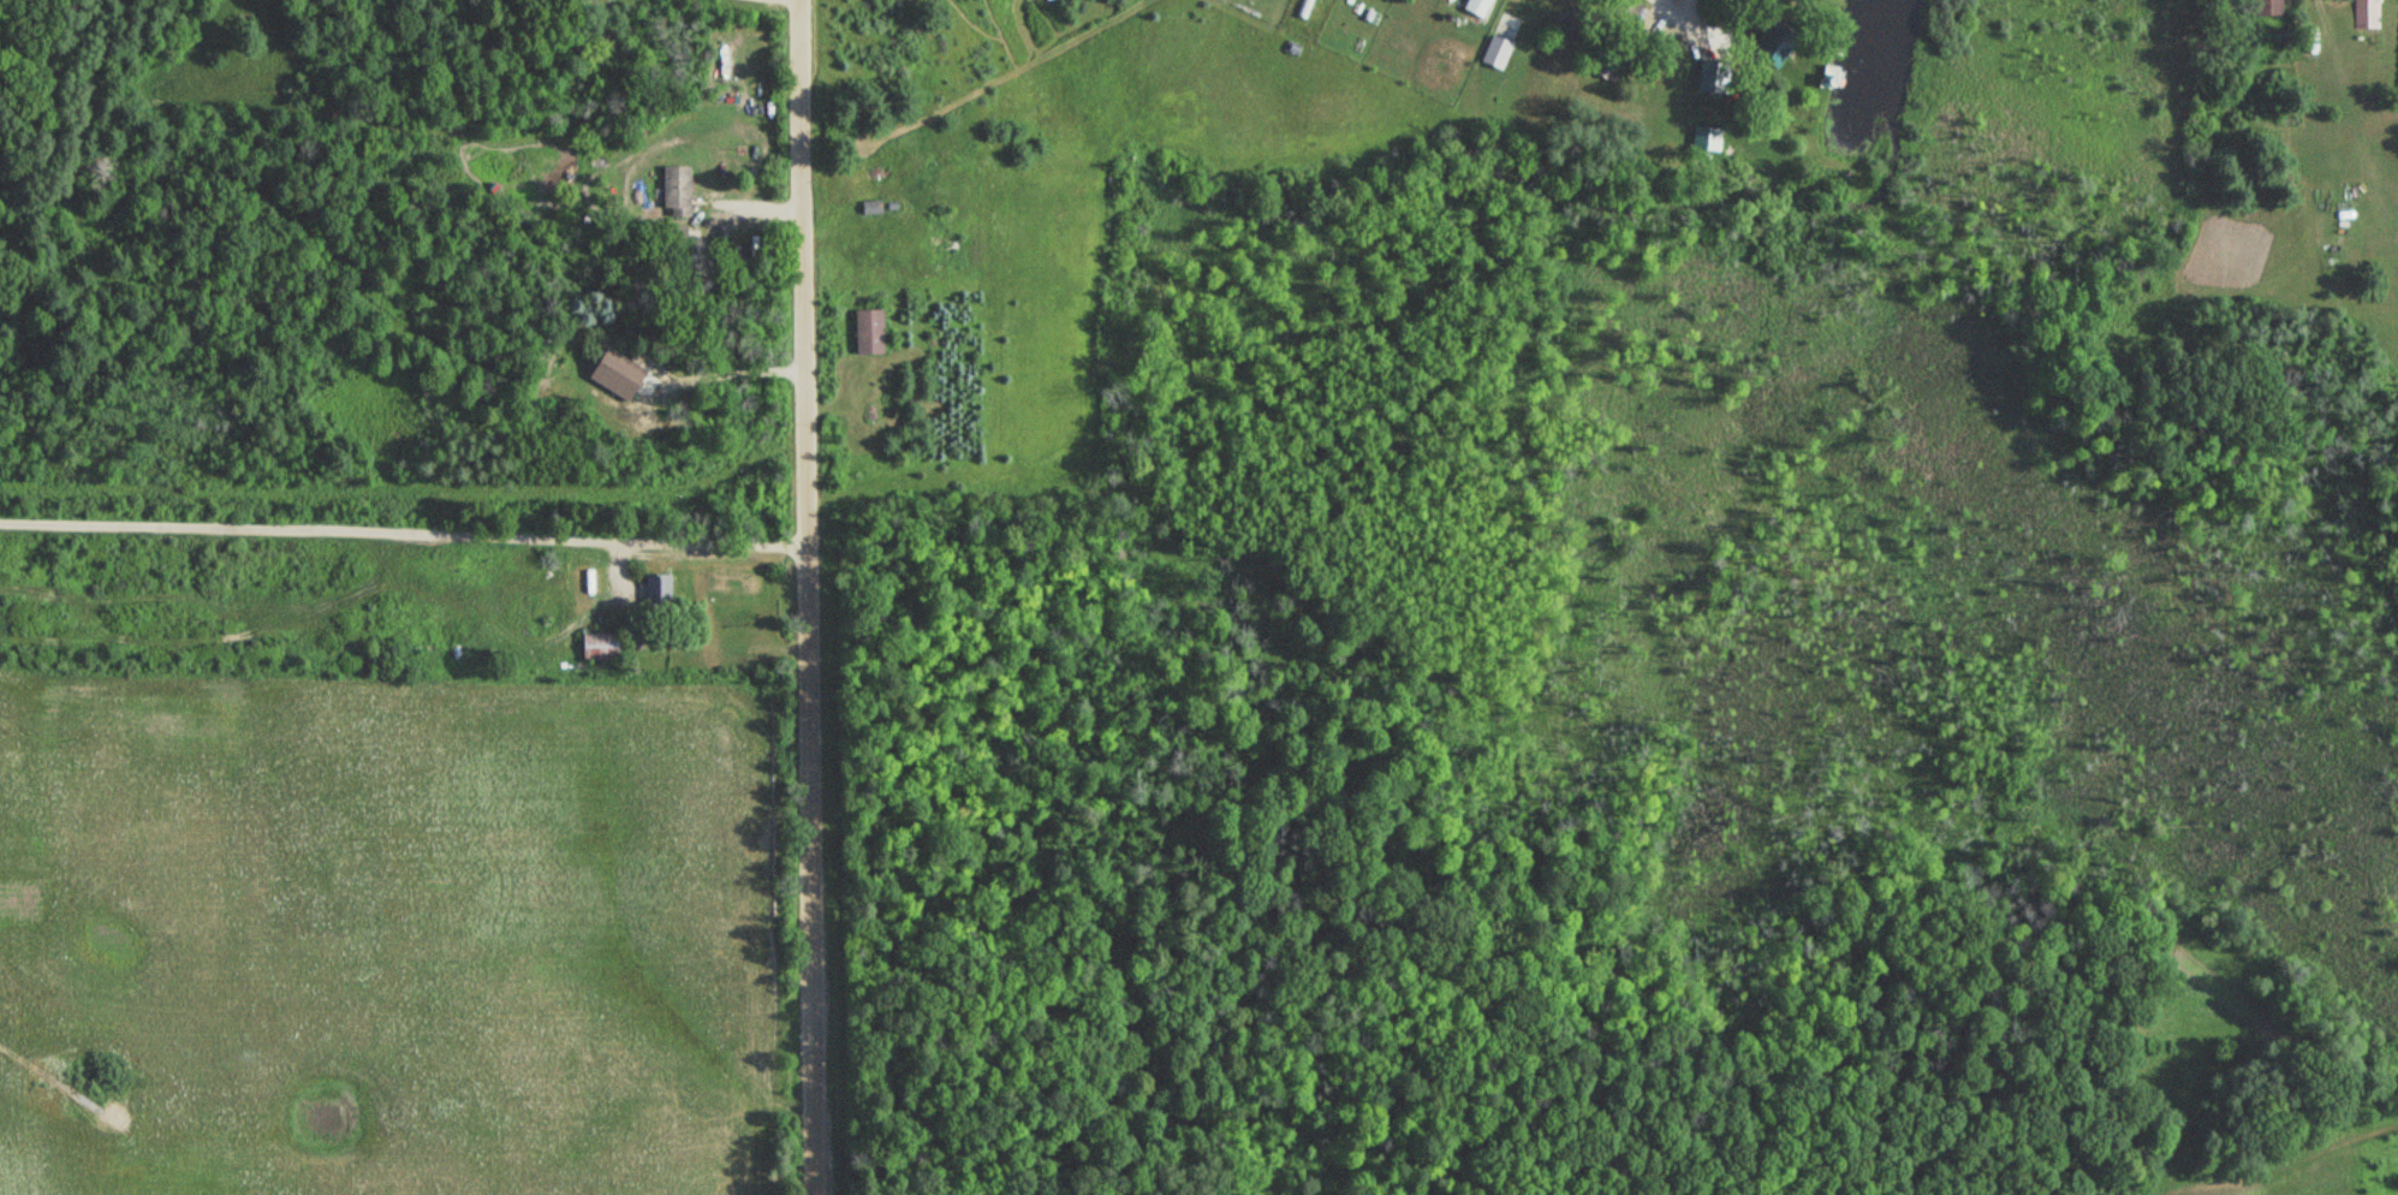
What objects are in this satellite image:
building: (1474, 6)
building: (2267, 7)
building: (2366, 14)
building: (1494, 52)
building: (673, 188)
building: (870, 207)
building: (865, 331)
road: (403, 533)
building: (653, 588)
road: (807, 596)
building: (596, 646)
building: (349, 911)

